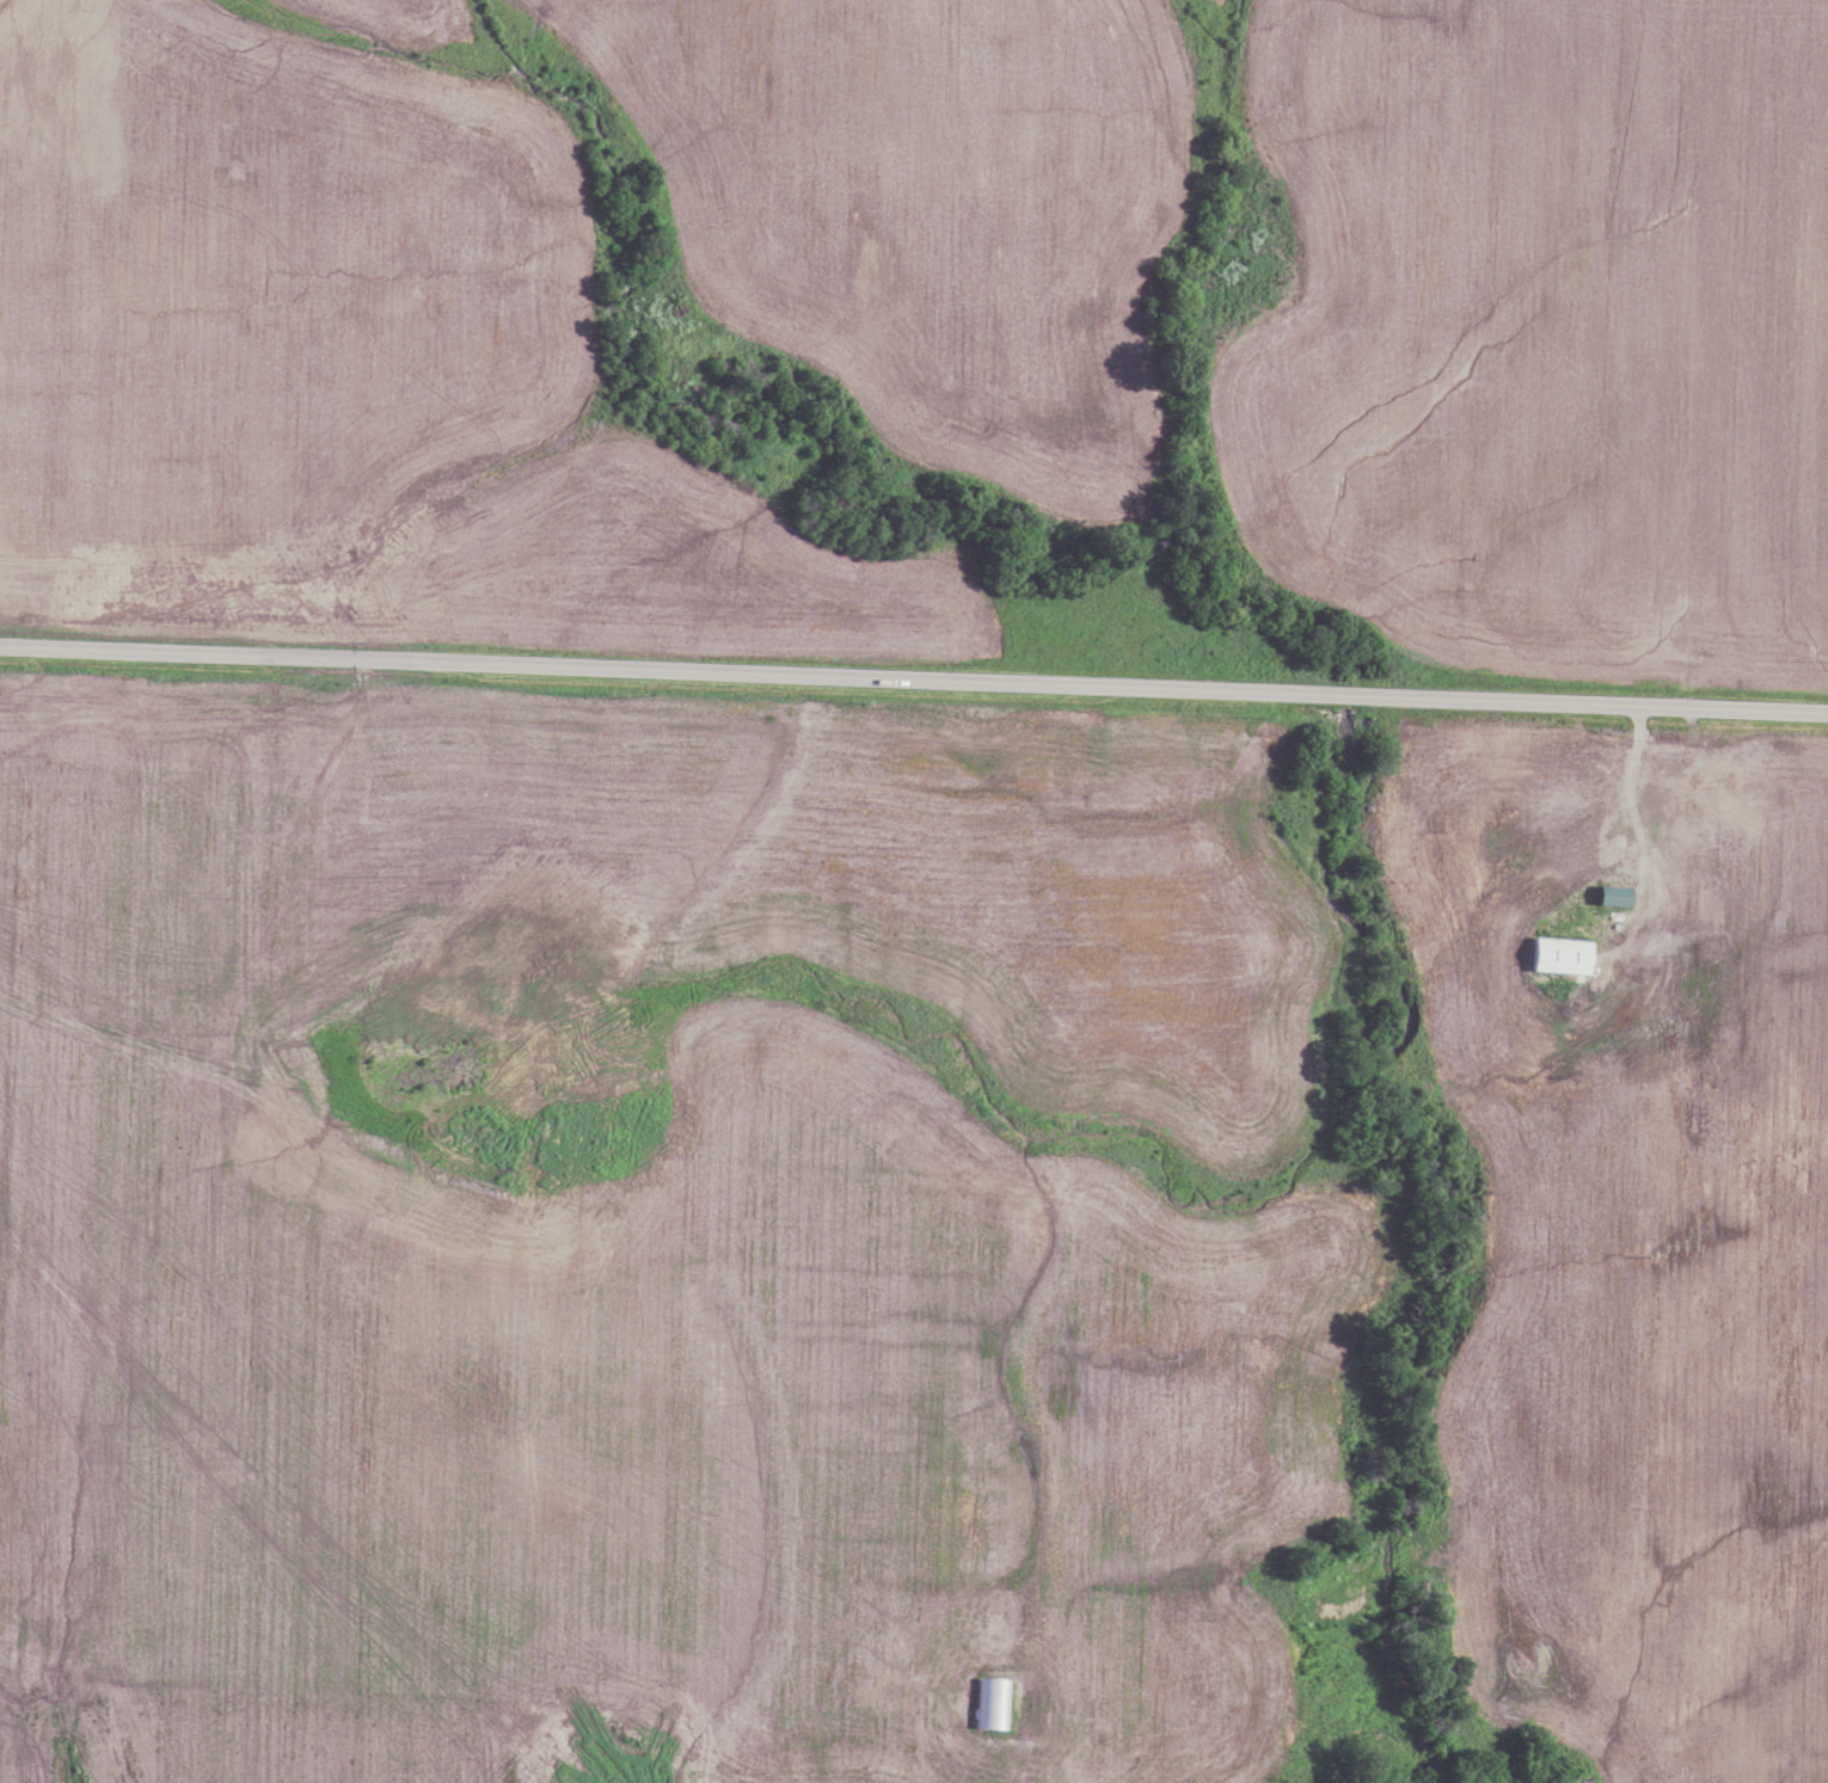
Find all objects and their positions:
road: (914, 677)
road: (1630, 771)
building: (1705, 780)
building: (1581, 795)
building: (1615, 837)
building: (1671, 884)
building: (1603, 896)
building: (1553, 957)
building: (993, 1703)

